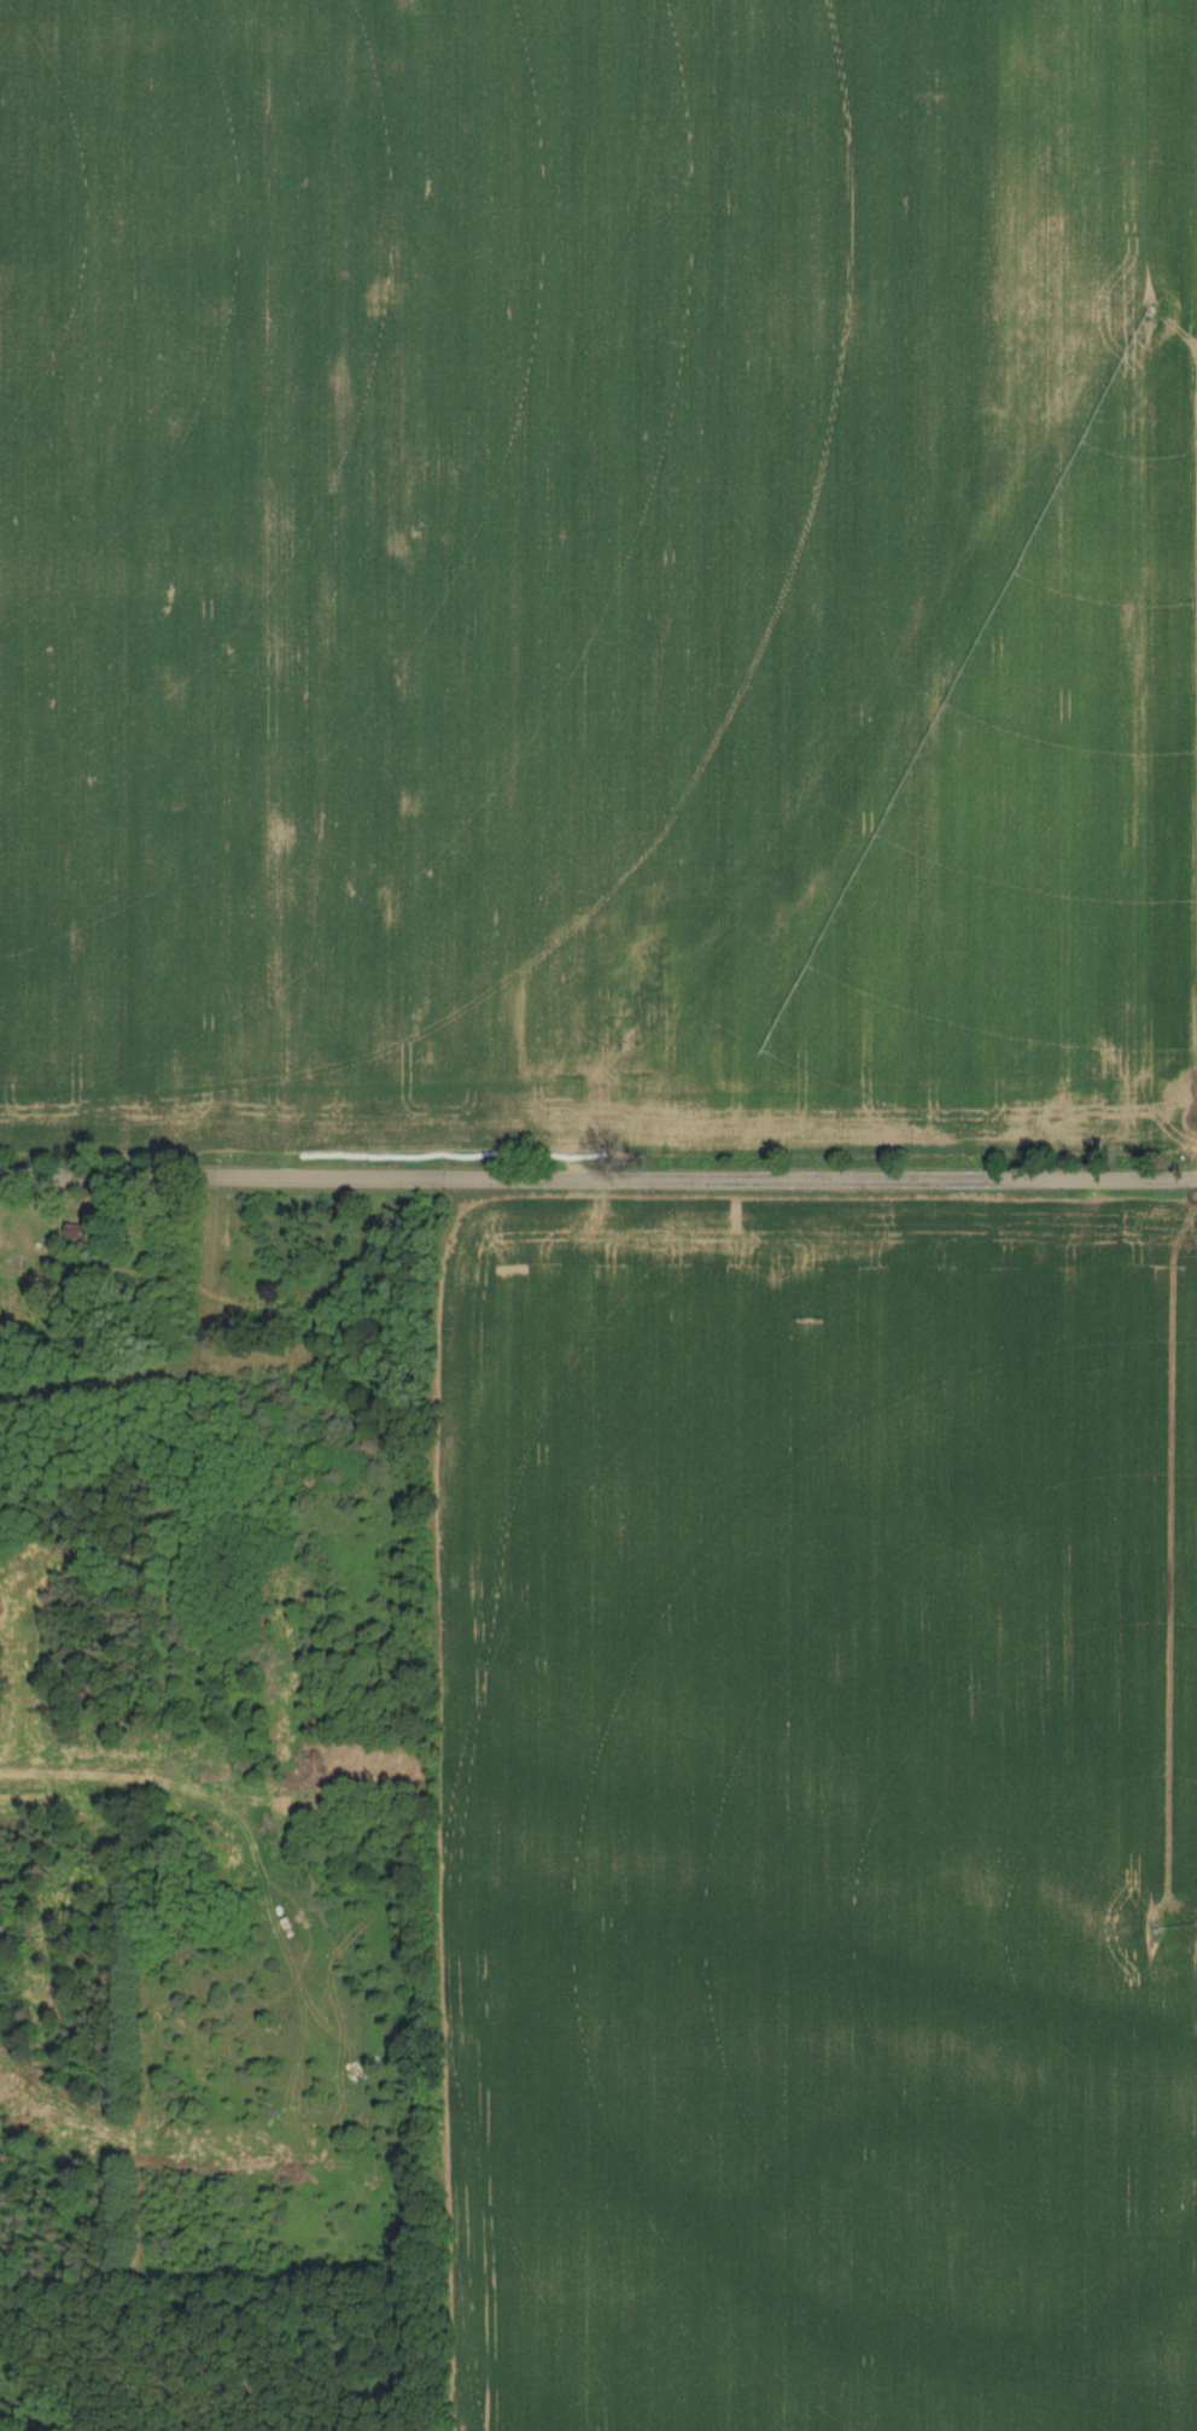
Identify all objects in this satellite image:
road: (598, 1184)
building: (69, 1235)

